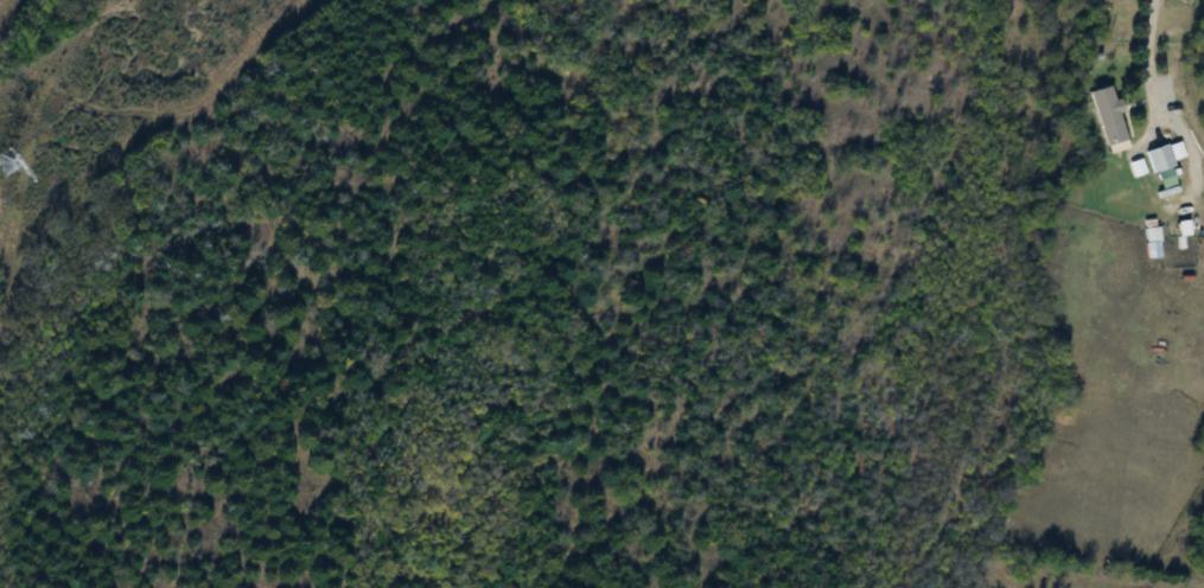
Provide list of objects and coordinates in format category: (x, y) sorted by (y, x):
road: (1147, 58)
building: (1106, 116)
building: (1155, 159)

